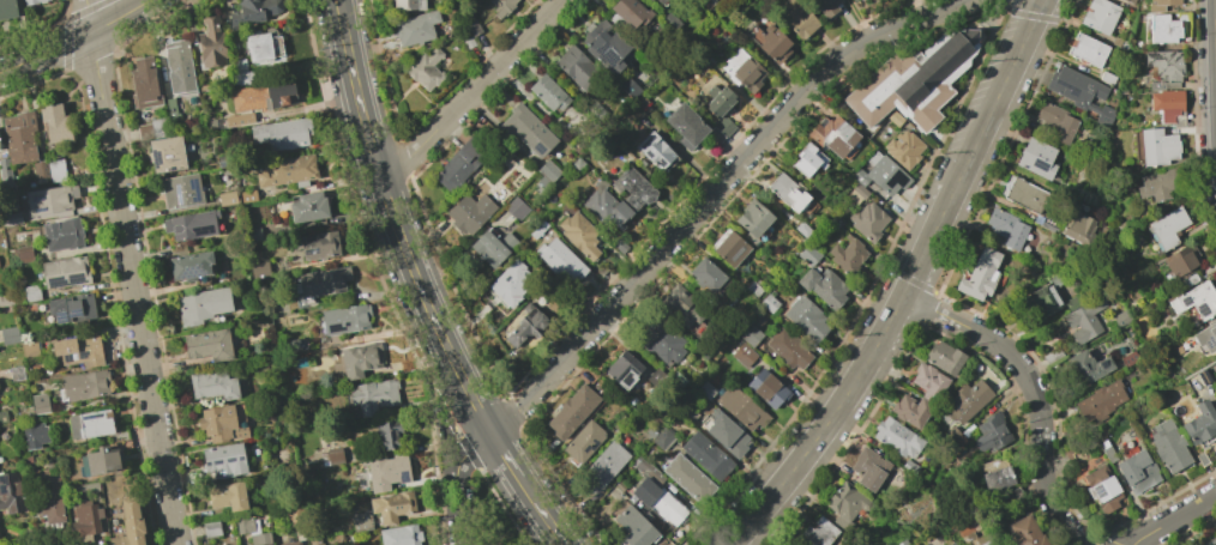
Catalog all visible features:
building: (649, 0)
building: (849, 0)
building: (1125, 0)
building: (34, 1)
building: (660, 1)
building: (1130, 1)
building: (1164, 1)
building: (408, 5)
building: (501, 7)
building: (826, 7)
building: (7, 8)
building: (251, 12)
building: (625, 13)
building: (1100, 16)
building: (796, 17)
building: (670, 20)
building: (472, 25)
building: (415, 28)
building: (1162, 29)
building: (465, 38)
road: (76, 40)
building: (211, 43)
building: (772, 43)
building: (1119, 43)
building: (606, 46)
building: (260, 47)
building: (1088, 49)
building: (177, 62)
building: (577, 68)
building: (1163, 68)
building: (426, 69)
building: (742, 71)
building: (240, 73)
building: (1107, 78)
building: (913, 80)
building: (144, 84)
building: (628, 89)
rooftop solar panel: (1072, 90)
road: (472, 91)
building: (1080, 92)
building: (547, 93)
road: (998, 95)
building: (263, 97)
building: (718, 101)
building: (1168, 107)
building: (169, 108)
building: (595, 109)
building: (895, 119)
building: (1057, 121)
building: (50, 122)
building: (685, 126)
building: (723, 126)
building: (151, 129)
building: (528, 131)
building: (18, 133)
building: (281, 133)
building: (832, 135)
building: (712, 138)
building: (1154, 146)
building: (903, 149)
building: (655, 151)
building: (165, 153)
building: (1036, 158)
rooftop solar panel: (156, 159)
building: (808, 159)
building: (460, 162)
building: (47, 170)
building: (285, 170)
building: (548, 170)
building: (881, 175)
road: (727, 177)
building: (1158, 184)
building: (633, 188)
building: (180, 190)
building: (787, 192)
building: (855, 193)
building: (1027, 195)
building: (227, 198)
rooftop solar panel: (37, 199)
building: (49, 200)
building: (307, 206)
building: (606, 207)
building: (516, 208)
rooftop solar panel: (40, 211)
building: (465, 216)
building: (10, 219)
building: (752, 219)
building: (867, 222)
building: (1043, 223)
road: (395, 224)
building: (191, 225)
building: (1167, 226)
building: (1006, 228)
building: (1078, 228)
building: (801, 229)
building: (61, 235)
building: (579, 235)
building: (318, 244)
building: (492, 247)
building: (728, 248)
building: (22, 254)
building: (808, 255)
building: (847, 255)
building: (559, 259)
building: (1181, 260)
building: (189, 266)
building: (259, 270)
building: (64, 272)
road: (128, 272)
rooftop solar panel: (191, 274)
building: (705, 274)
building: (980, 274)
building: (1190, 280)
building: (321, 281)
building: (508, 284)
building: (823, 286)
building: (753, 289)
building: (5, 299)
building: (1196, 299)
building: (1041, 301)
building: (1074, 301)
building: (681, 302)
building: (767, 303)
building: (201, 304)
rooftop solar panel: (1184, 304)
building: (71, 308)
rooftop solar panel: (1204, 310)
building: (1121, 316)
building: (806, 317)
building: (344, 319)
building: (1084, 320)
building: (525, 325)
rooftop solar panel: (336, 331)
building: (8, 335)
building: (751, 335)
building: (1206, 335)
rooftop solar panel: (1215, 335)
building: (663, 343)
rooftop solar panel: (1212, 344)
building: (207, 345)
building: (29, 349)
building: (787, 349)
building: (78, 350)
building: (742, 355)
rooftop solar panel: (82, 356)
building: (357, 358)
building: (944, 358)
building: (1128, 358)
rooftop solar panel: (68, 359)
building: (1086, 367)
building: (622, 369)
road: (856, 377)
building: (656, 379)
rooftop solar panel: (1200, 379)
building: (928, 382)
building: (213, 384)
building: (83, 386)
building: (766, 388)
building: (706, 389)
road: (1036, 390)
road: (449, 393)
building: (374, 395)
building: (968, 400)
building: (1100, 401)
building: (40, 404)
building: (740, 407)
building: (910, 410)
building: (572, 412)
building: (690, 416)
building: (2, 417)
rooftop solar panel: (90, 417)
building: (239, 423)
road: (506, 423)
building: (1199, 423)
building: (90, 424)
building: (221, 424)
building: (389, 431)
building: (724, 432)
building: (992, 434)
building: (35, 435)
building: (896, 437)
building: (662, 438)
building: (583, 442)
building: (1168, 446)
road: (445, 447)
road: (469, 452)
building: (1073, 454)
building: (1108, 454)
building: (706, 455)
building: (333, 456)
road: (506, 458)
rooftop solar panel: (241, 459)
building: (101, 460)
building: (223, 460)
rooftop solar panel: (229, 461)
rooftop solar panel: (216, 462)
building: (604, 465)
building: (909, 467)
building: (868, 468)
building: (1137, 470)
building: (387, 471)
building: (646, 471)
building: (995, 473)
rooftop solar panel: (404, 478)
building: (687, 478)
rooftop solar panel: (4, 482)
building: (85, 489)
building: (1101, 489)
rooftop solar panel: (2, 491)
building: (11, 493)
rooftop solar panel: (1097, 493)
building: (1012, 495)
building: (47, 496)
building: (228, 496)
building: (658, 501)
building: (845, 501)
building: (392, 505)
road: (457, 509)
road: (542, 513)
park: (493, 516)
road: (1173, 519)
building: (86, 520)
building: (361, 520)
building: (130, 523)
building: (245, 525)
building: (211, 528)
building: (636, 528)
building: (819, 532)
building: (1024, 532)
building: (401, 534)
building: (974, 539)
building: (315, 541)
building: (899, 541)
building: (1210, 541)
building: (291, 543)
building: (949, 543)
building: (787, 544)

